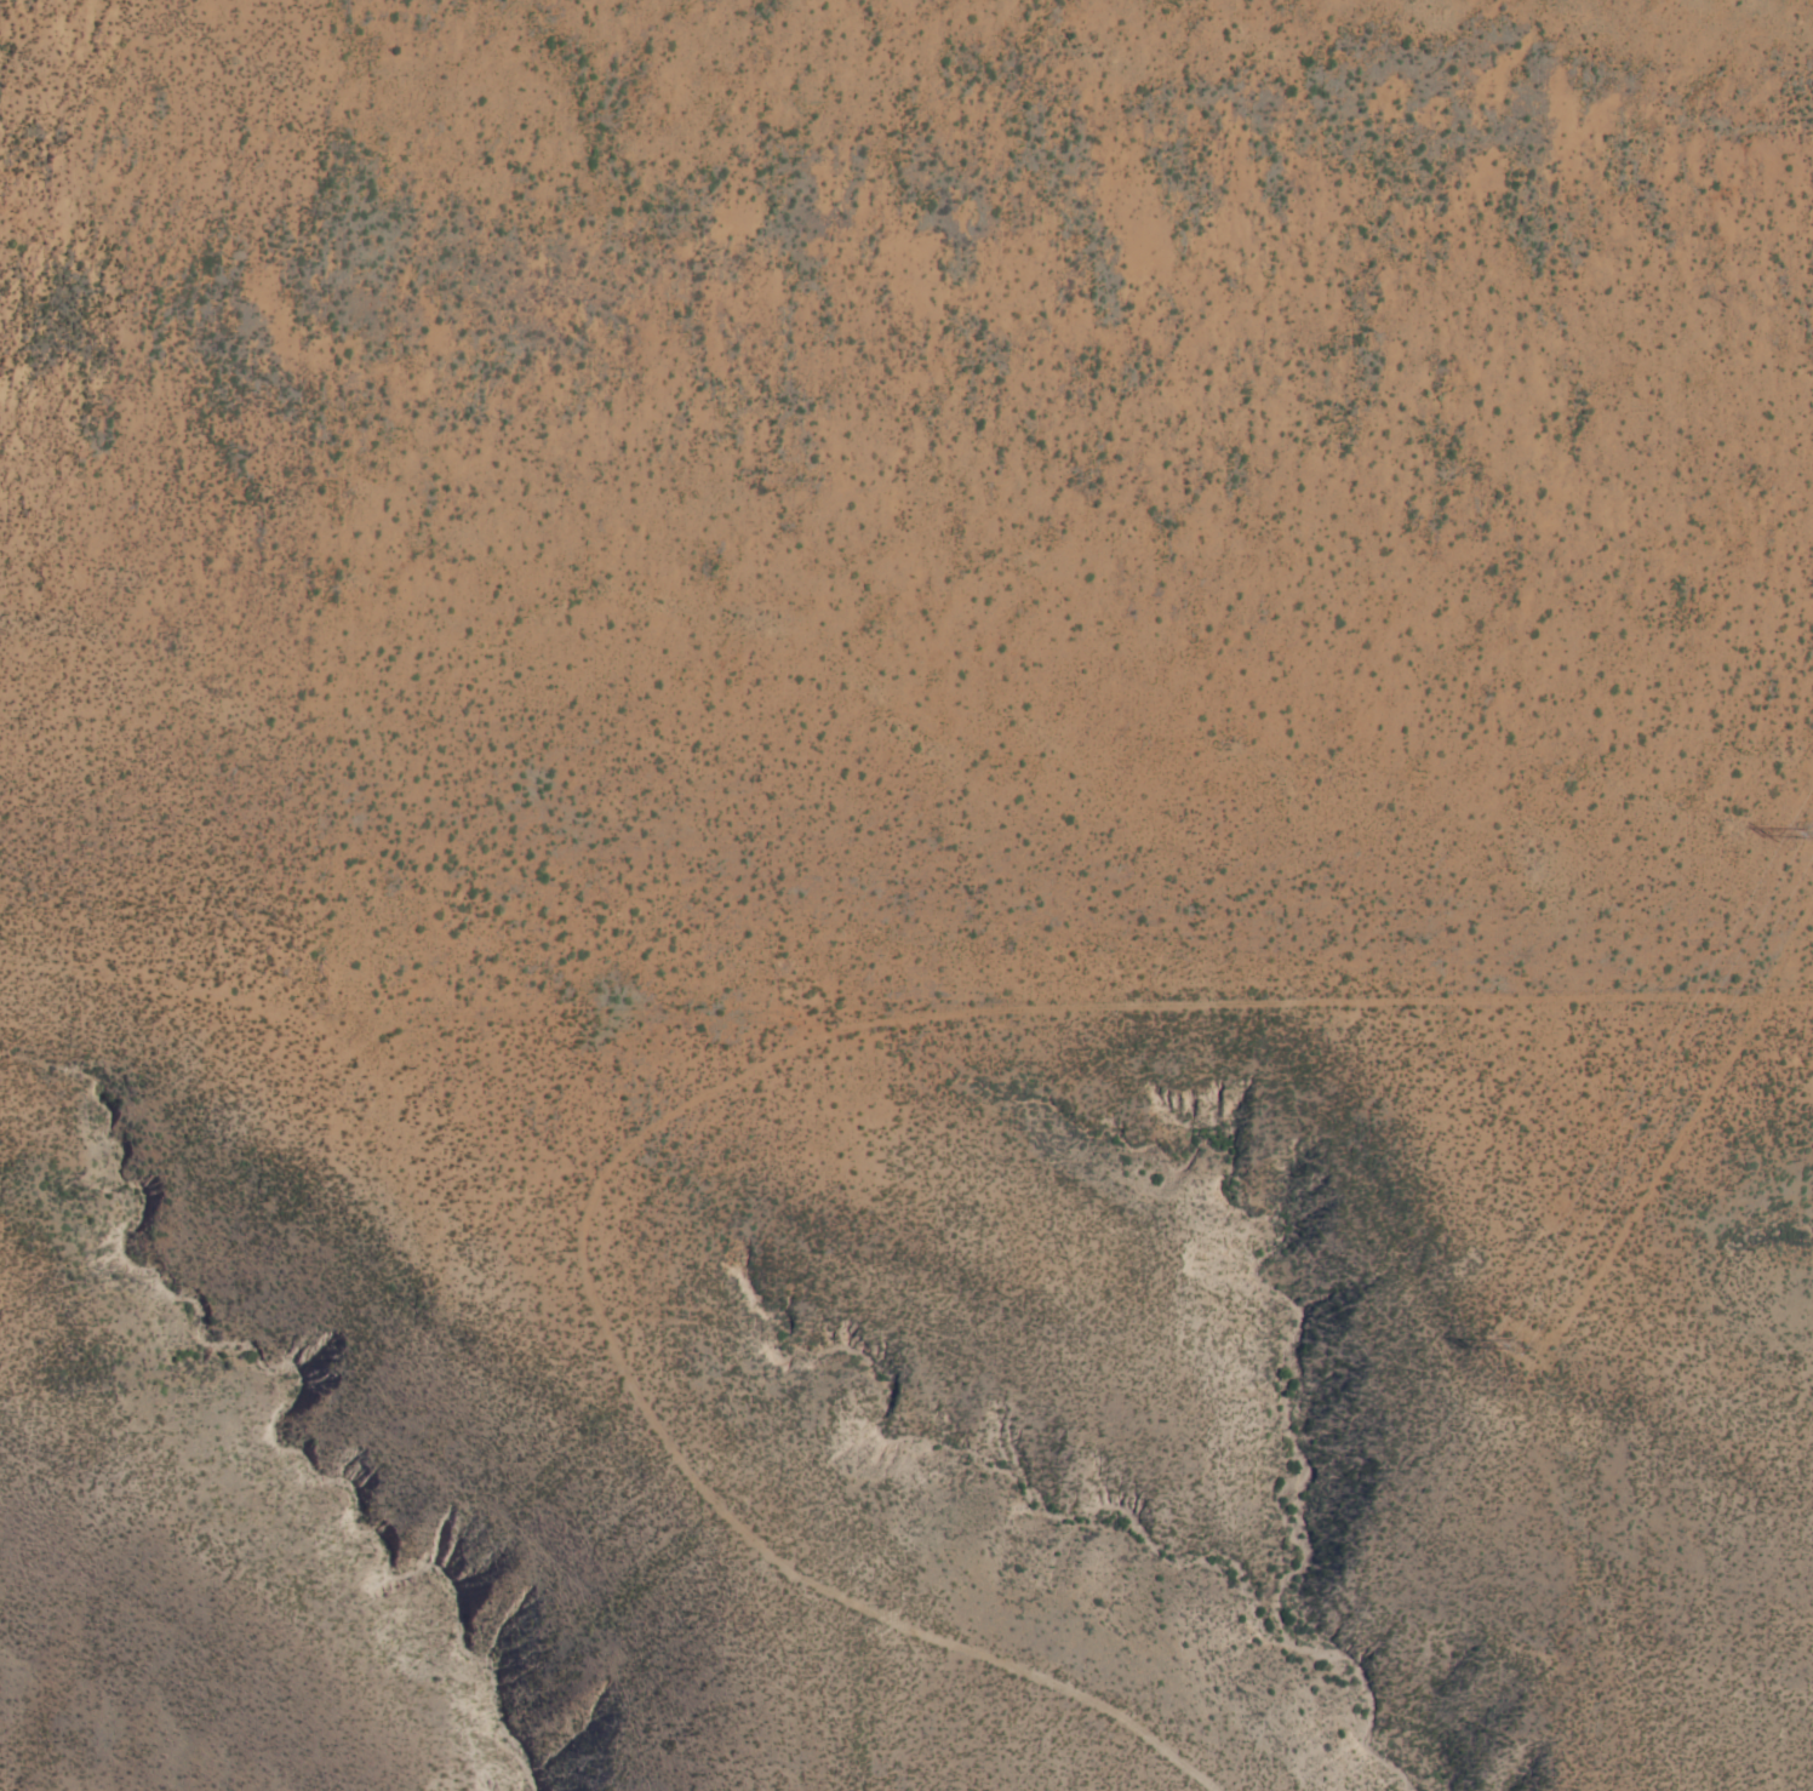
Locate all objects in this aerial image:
road: (717, 1086)
road: (1686, 1133)
power tower: (1520, 1339)

